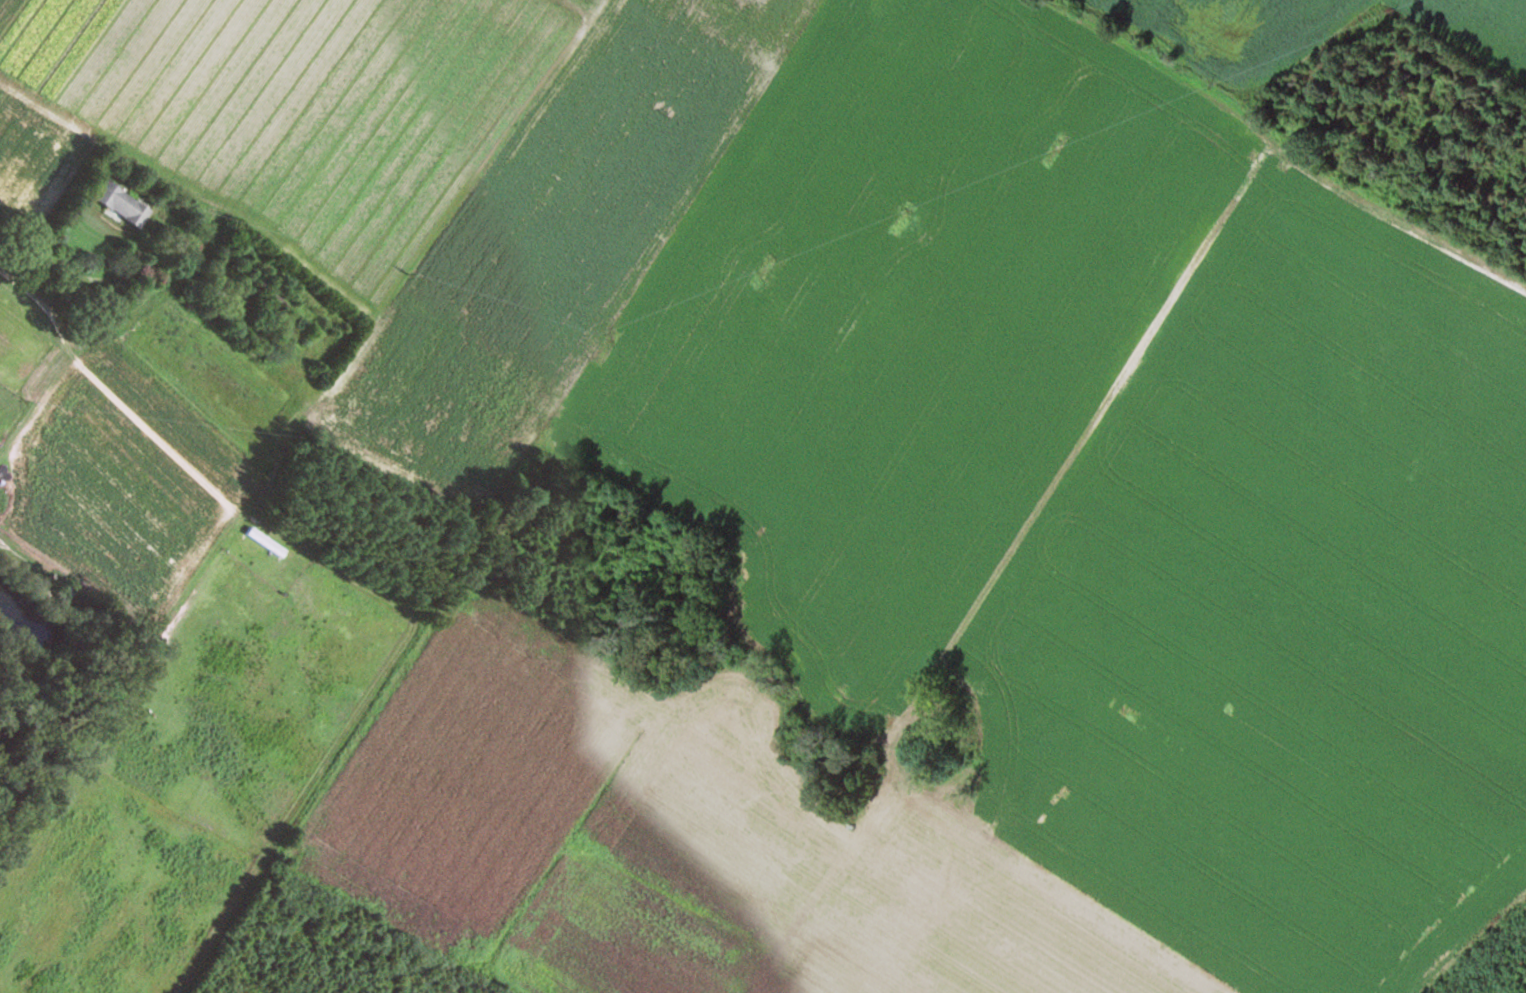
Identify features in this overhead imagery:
building: (124, 203)
road: (39, 265)
building: (277, 293)

